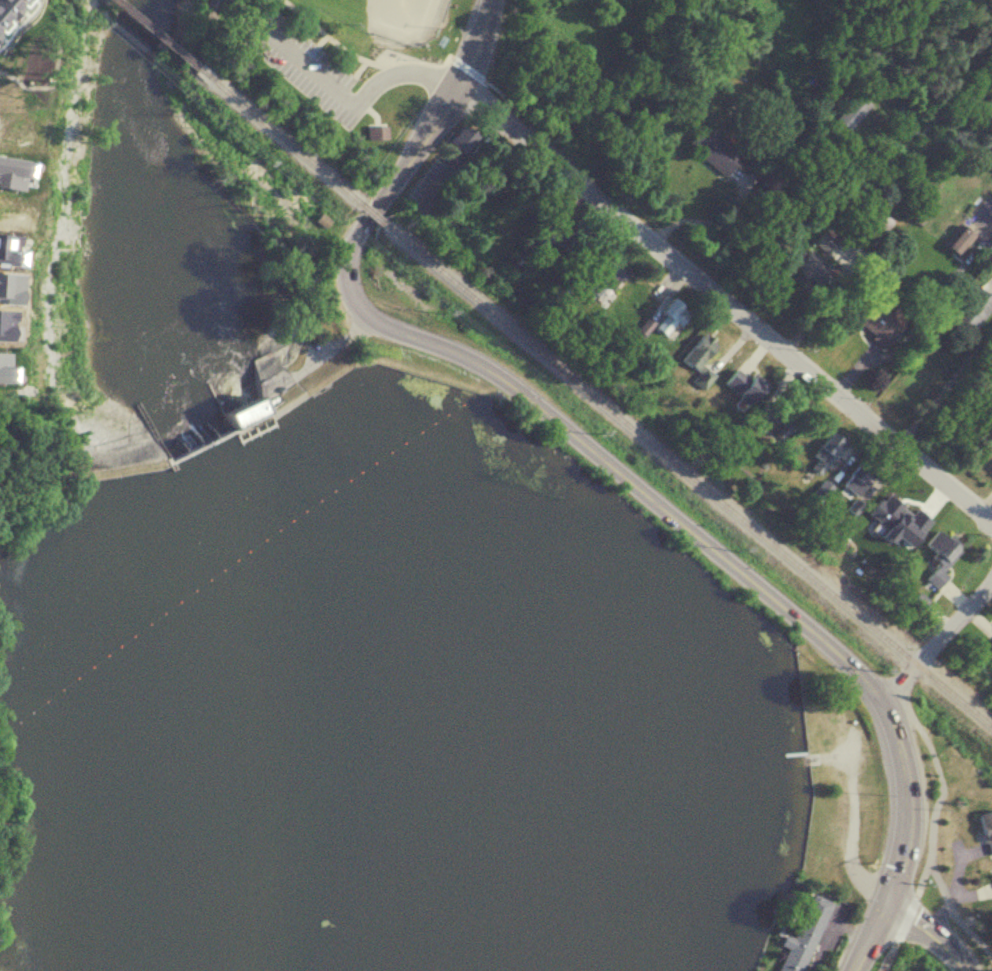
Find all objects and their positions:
road: (244, 7)
road: (257, 8)
building: (10, 12)
road: (325, 34)
railway: (157, 39)
road: (313, 48)
road: (451, 57)
park: (340, 61)
road: (352, 76)
road: (346, 99)
building: (855, 110)
building: (376, 131)
railway: (282, 142)
building: (457, 142)
building: (878, 149)
building: (712, 150)
railway: (369, 213)
road: (703, 219)
road: (783, 219)
river: (150, 220)
building: (876, 227)
building: (561, 237)
building: (958, 240)
building: (812, 265)
building: (603, 279)
road: (991, 283)
road: (752, 298)
road: (724, 301)
building: (974, 311)
building: (666, 316)
building: (876, 321)
building: (699, 358)
road: (497, 375)
building: (741, 383)
road: (944, 386)
dam: (219, 436)
building: (824, 454)
railway: (685, 474)
building: (859, 479)
building: (893, 505)
building: (939, 556)
building: (916, 606)
building: (991, 642)
road: (935, 643)
river: (417, 676)
road: (935, 771)
building: (986, 829)
road: (902, 841)
road: (941, 891)
traffic signals: (886, 899)
road: (931, 930)
building: (801, 935)
road: (892, 941)

